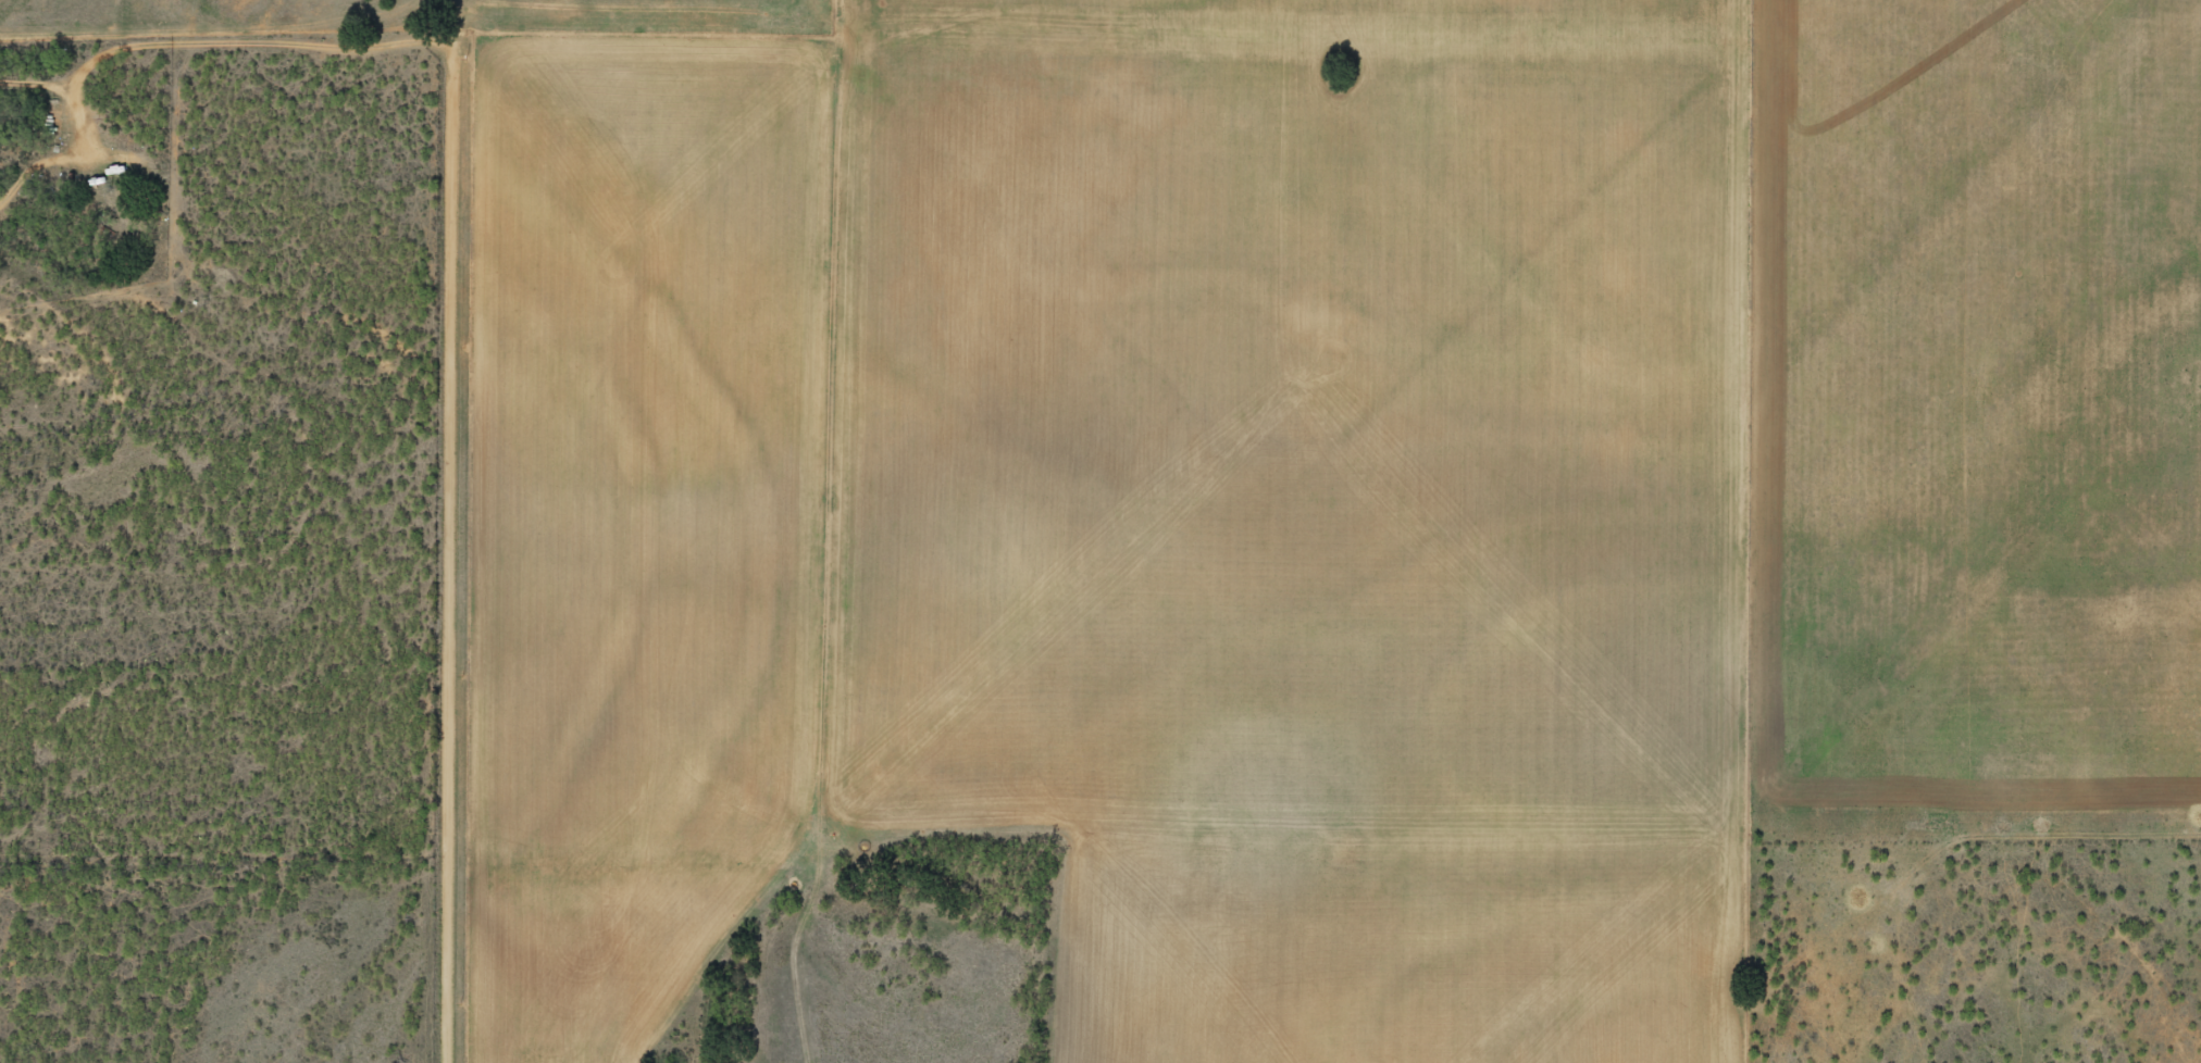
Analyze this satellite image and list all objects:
road: (433, 55)
road: (476, 563)

